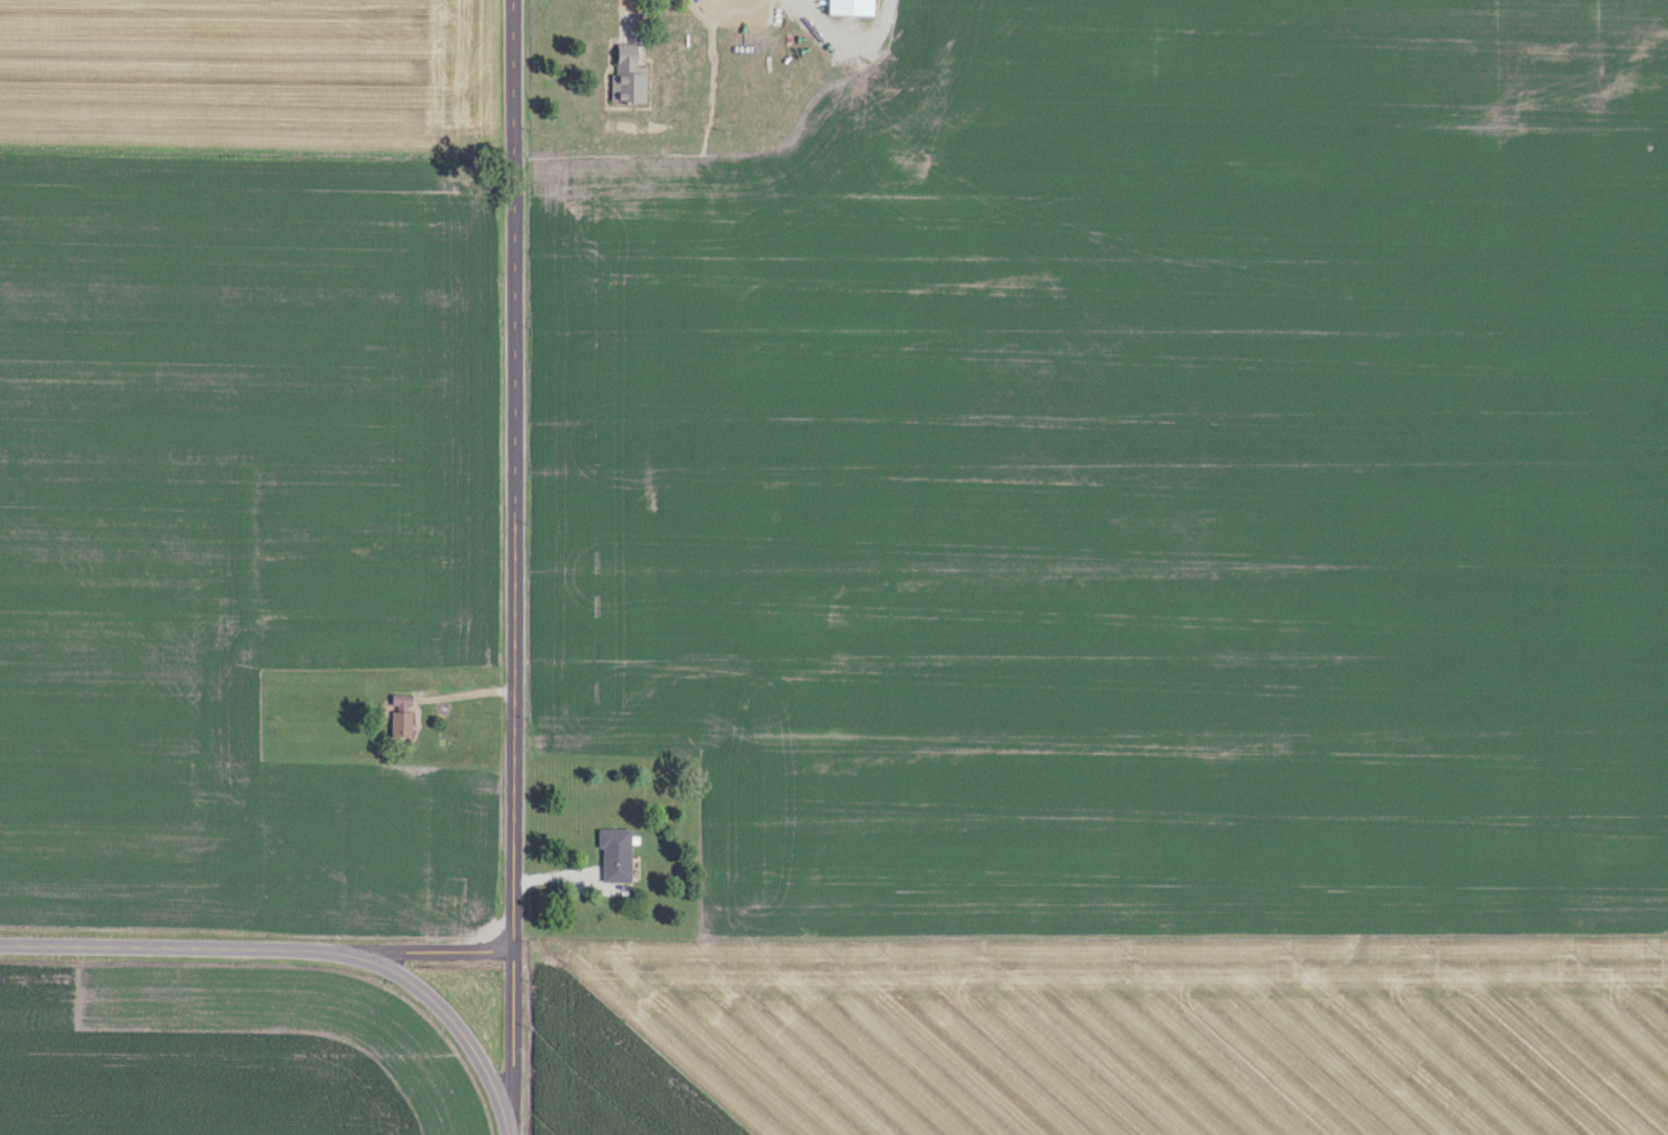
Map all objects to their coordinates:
building: (853, 8)
road: (624, 18)
road: (848, 45)
road: (511, 474)
building: (399, 722)
road: (302, 948)
road: (422, 949)
road: (512, 1042)

